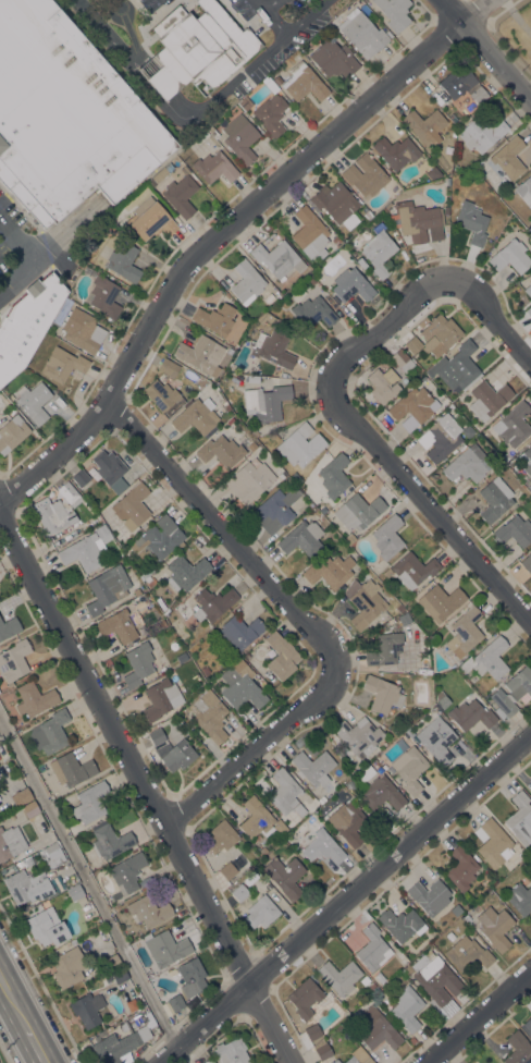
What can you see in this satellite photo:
road: (269, 4)
road: (502, 10)
road: (453, 11)
building: (394, 12)
road: (516, 16)
building: (168, 21)
road: (288, 33)
building: (362, 33)
road: (107, 36)
building: (198, 50)
building: (334, 59)
road: (496, 61)
road: (160, 77)
building: (277, 80)
building: (304, 82)
road: (231, 85)
building: (270, 85)
building: (462, 85)
building: (246, 103)
building: (271, 114)
building: (66, 115)
building: (454, 118)
building: (425, 125)
building: (481, 134)
building: (240, 137)
building: (396, 151)
building: (509, 157)
building: (214, 167)
building: (433, 173)
building: (365, 174)
building: (161, 175)
building: (394, 188)
building: (524, 190)
building: (181, 195)
building: (335, 203)
building: (367, 215)
building: (151, 221)
building: (350, 221)
building: (418, 221)
building: (472, 223)
road: (221, 230)
building: (310, 231)
building: (336, 241)
road: (7, 243)
building: (379, 251)
building: (511, 256)
road: (33, 260)
building: (279, 260)
building: (124, 261)
building: (89, 270)
building: (247, 282)
building: (351, 284)
building: (528, 290)
building: (279, 295)
building: (103, 296)
building: (529, 310)
building: (313, 311)
building: (264, 317)
road: (492, 317)
building: (215, 319)
building: (425, 320)
building: (27, 322)
building: (82, 330)
building: (440, 334)
building: (413, 344)
building: (273, 349)
building: (230, 351)
building: (201, 355)
building: (402, 359)
building: (63, 364)
building: (168, 367)
building: (456, 367)
building: (252, 379)
building: (383, 384)
building: (163, 396)
building: (489, 399)
building: (34, 402)
building: (265, 402)
building: (445, 402)
building: (224, 405)
building: (413, 407)
building: (196, 416)
building: (513, 425)
building: (12, 433)
building: (442, 437)
building: (300, 444)
road: (372, 444)
building: (252, 445)
building: (221, 451)
building: (513, 460)
building: (526, 460)
building: (467, 464)
building: (111, 471)
building: (334, 475)
building: (81, 477)
building: (295, 477)
building: (249, 481)
building: (70, 493)
building: (495, 499)
building: (132, 506)
building: (275, 510)
building: (358, 512)
building: (52, 515)
building: (515, 530)
building: (162, 537)
building: (387, 537)
building: (301, 538)
building: (349, 538)
building: (86, 549)
building: (128, 550)
building: (219, 563)
building: (527, 563)
building: (413, 569)
building: (330, 571)
building: (186, 572)
building: (146, 573)
building: (387, 573)
building: (151, 582)
building: (107, 588)
building: (136, 591)
building: (365, 601)
building: (441, 601)
building: (213, 603)
building: (399, 609)
road: (301, 620)
building: (162, 622)
building: (118, 626)
building: (9, 627)
building: (239, 632)
building: (465, 632)
building: (384, 649)
building: (281, 656)
building: (182, 657)
building: (487, 659)
building: (14, 661)
building: (138, 663)
building: (206, 670)
building: (242, 685)
building: (511, 693)
building: (382, 694)
building: (34, 699)
building: (442, 699)
building: (159, 700)
building: (209, 714)
building: (471, 714)
building: (50, 732)
building: (409, 732)
building: (157, 736)
building: (358, 736)
building: (436, 740)
building: (175, 754)
building: (314, 767)
building: (410, 768)
building: (71, 769)
building: (366, 773)
road: (146, 790)
building: (285, 793)
building: (382, 793)
building: (23, 795)
building: (90, 802)
building: (30, 809)
building: (256, 818)
building: (520, 818)
building: (348, 822)
building: (280, 827)
building: (301, 827)
building: (221, 836)
building: (257, 838)
building: (289, 839)
building: (110, 840)
building: (11, 842)
building: (493, 843)
building: (319, 844)
building: (529, 847)
building: (263, 851)
building: (52, 855)
building: (28, 862)
building: (246, 863)
building: (20, 864)
building: (461, 868)
building: (227, 870)
building: (8, 871)
building: (127, 872)
building: (285, 873)
building: (57, 883)
building: (27, 887)
road: (91, 891)
building: (238, 891)
building: (75, 892)
building: (430, 896)
building: (520, 899)
road: (344, 900)
building: (148, 911)
building: (261, 912)
building: (456, 912)
building: (400, 924)
building: (46, 927)
building: (494, 928)
building: (74, 942)
building: (373, 948)
building: (166, 949)
building: (468, 953)
building: (112, 963)
building: (69, 967)
building: (407, 969)
building: (193, 975)
building: (120, 976)
building: (339, 977)
building: (108, 978)
building: (435, 978)
building: (365, 980)
building: (305, 998)
building: (178, 1002)
road: (14, 1004)
building: (132, 1004)
building: (87, 1009)
building: (407, 1009)
road: (477, 1016)
building: (528, 1024)
building: (378, 1029)
building: (104, 1031)
building: (312, 1031)
building: (412, 1040)
building: (119, 1044)
road: (36, 1047)
building: (518, 1049)
building: (323, 1050)
building: (232, 1051)
building: (358, 1056)
building: (208, 1061)
building: (335, 1061)

